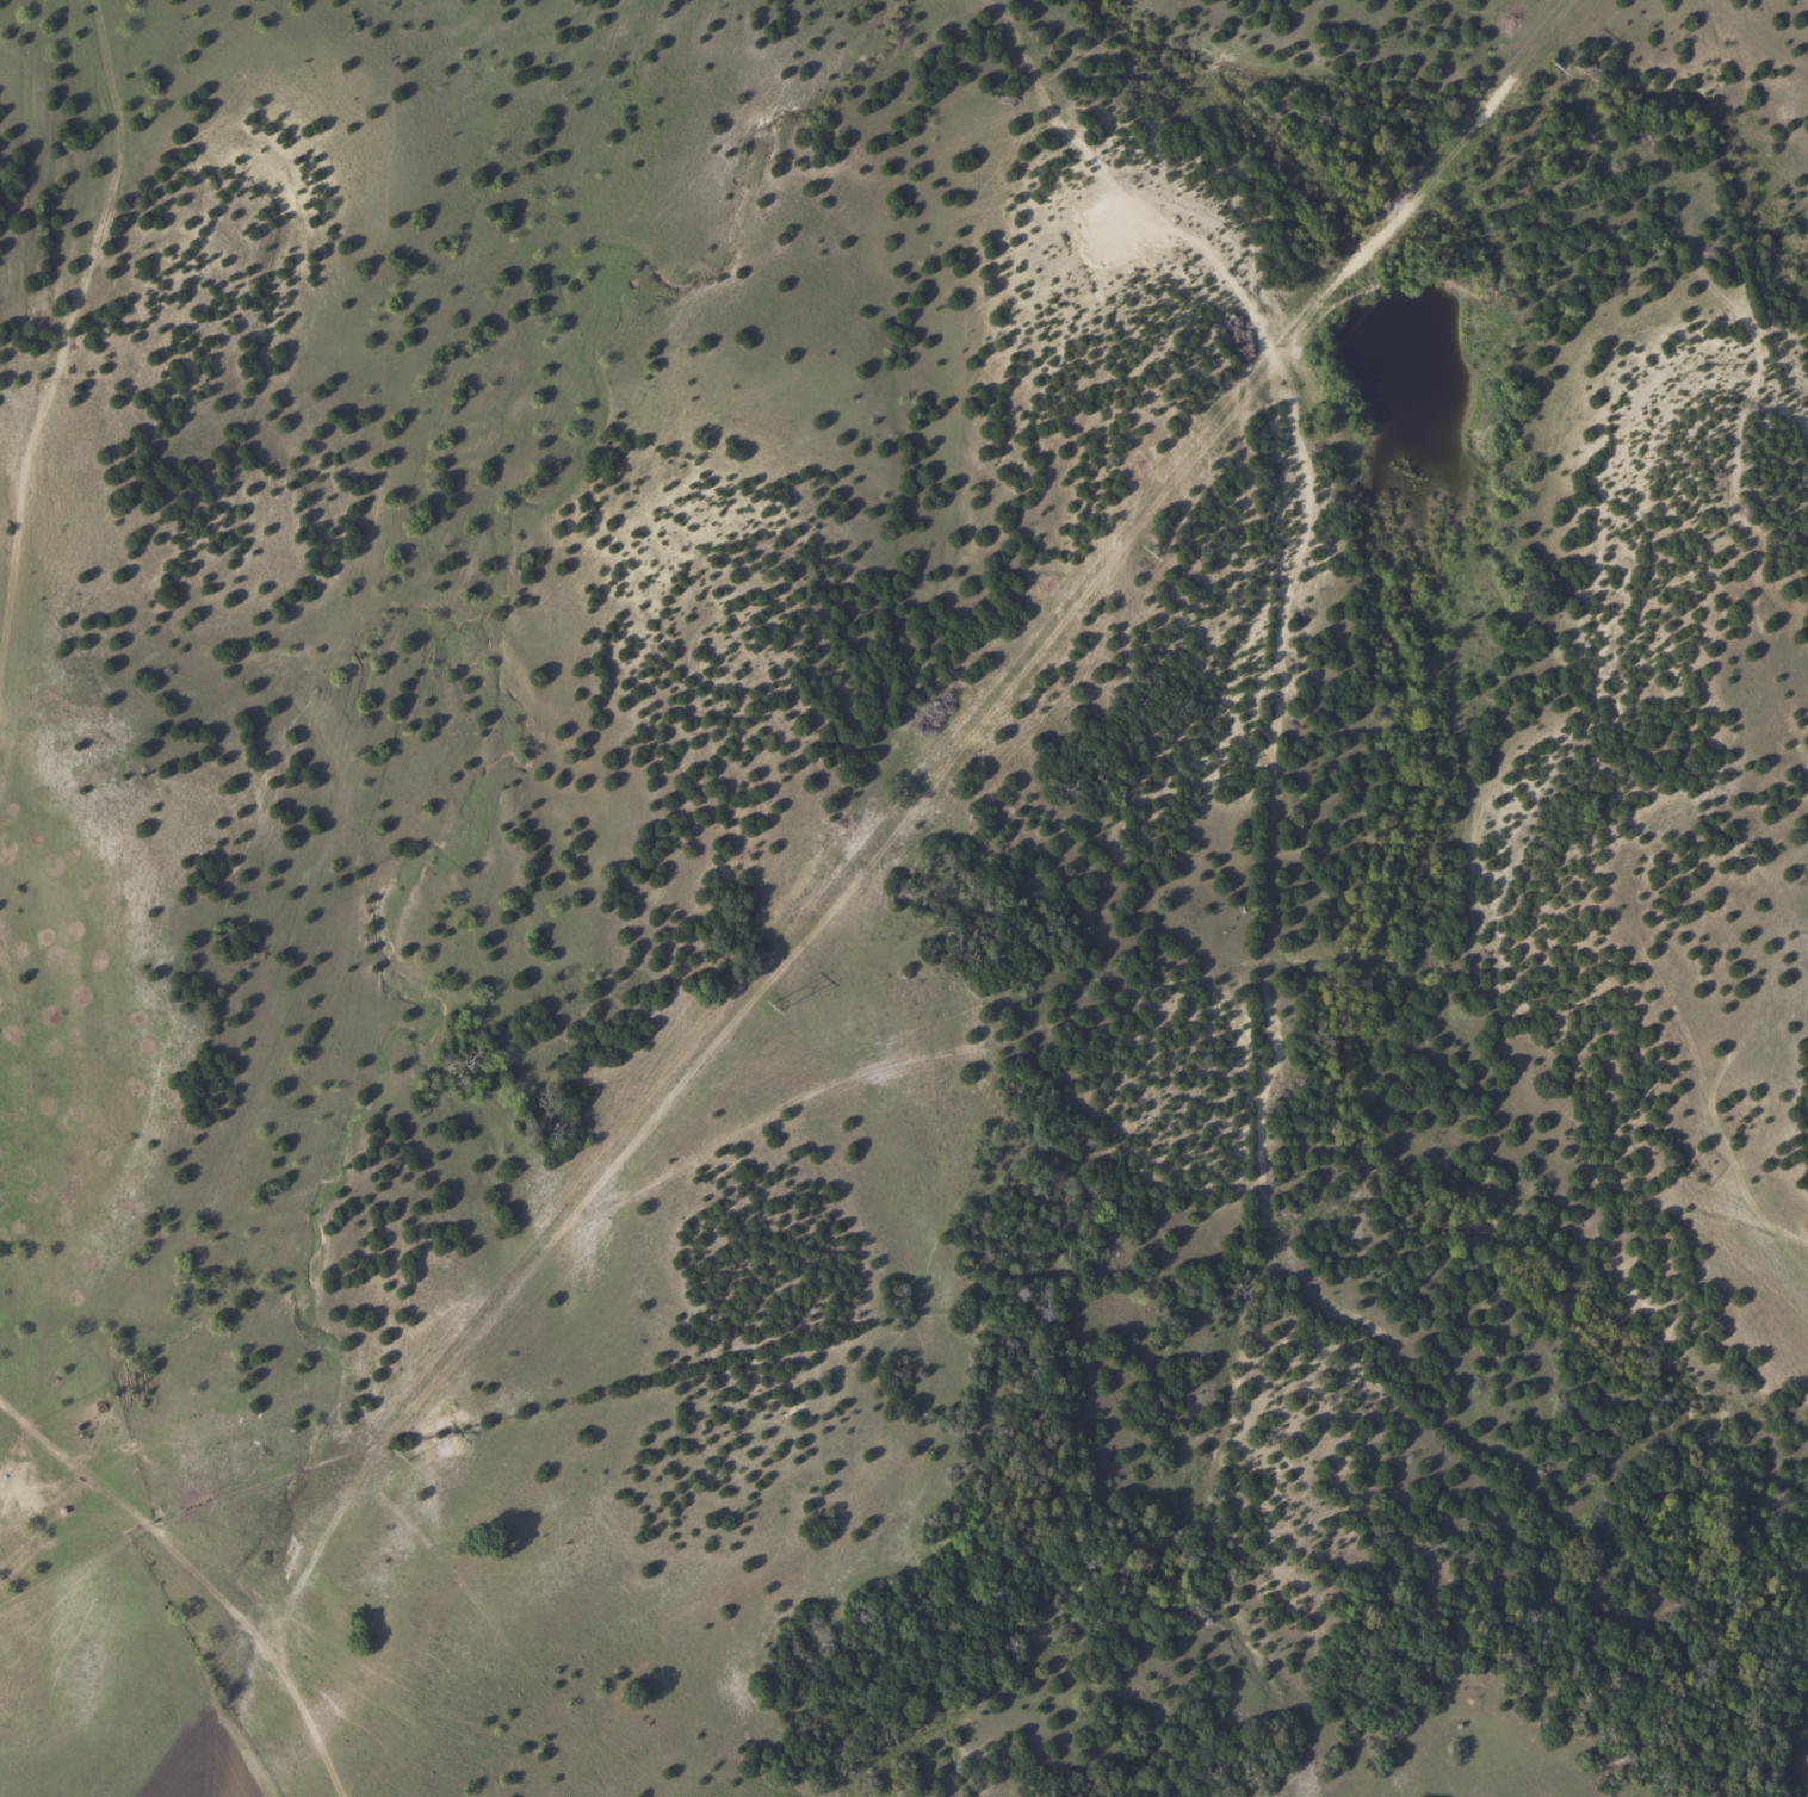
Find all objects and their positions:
power tower: (1552, 66)
road: (32, 343)
power tower: (1148, 552)
power tower: (774, 1005)
road: (930, 1072)
power tower: (403, 1455)

